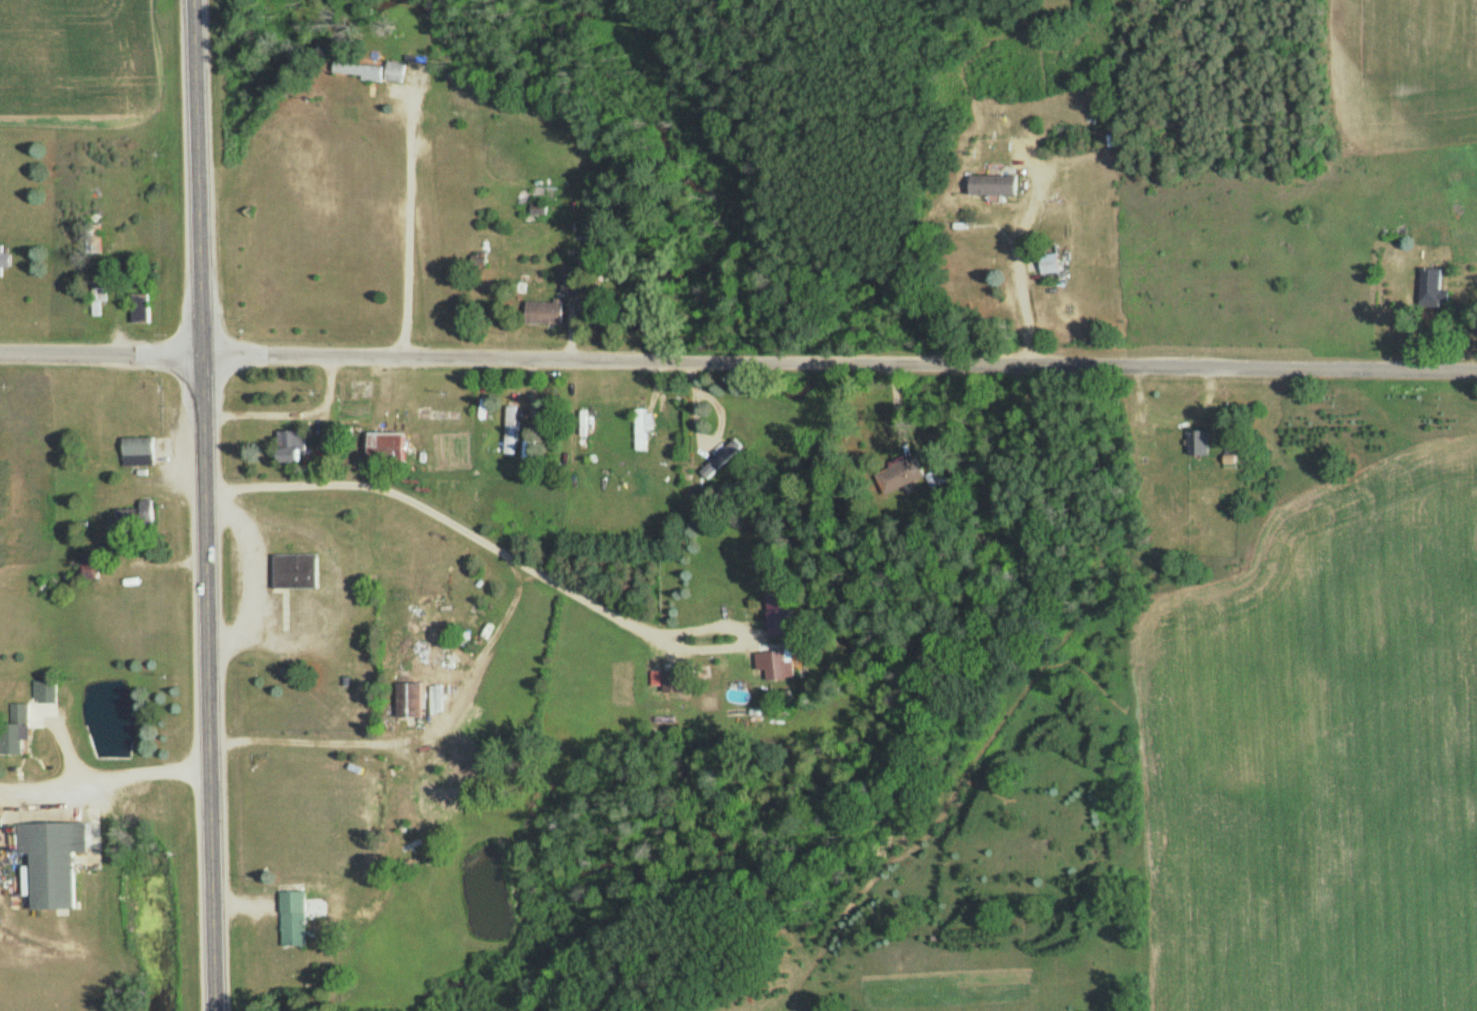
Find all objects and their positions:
building: (366, 71)
building: (396, 71)
building: (998, 185)
building: (541, 209)
road: (405, 228)
building: (5, 259)
building: (1051, 262)
building: (1434, 287)
building: (547, 312)
road: (738, 363)
building: (644, 427)
building: (511, 430)
building: (1200, 443)
building: (295, 446)
building: (389, 446)
building: (139, 451)
building: (905, 473)
road: (467, 488)
road: (201, 505)
building: (92, 566)
building: (297, 571)
building: (781, 613)
building: (780, 665)
building: (675, 681)
building: (46, 690)
building: (412, 698)
building: (20, 728)
building: (442, 774)
building: (55, 860)
road: (357, 892)
building: (294, 917)

